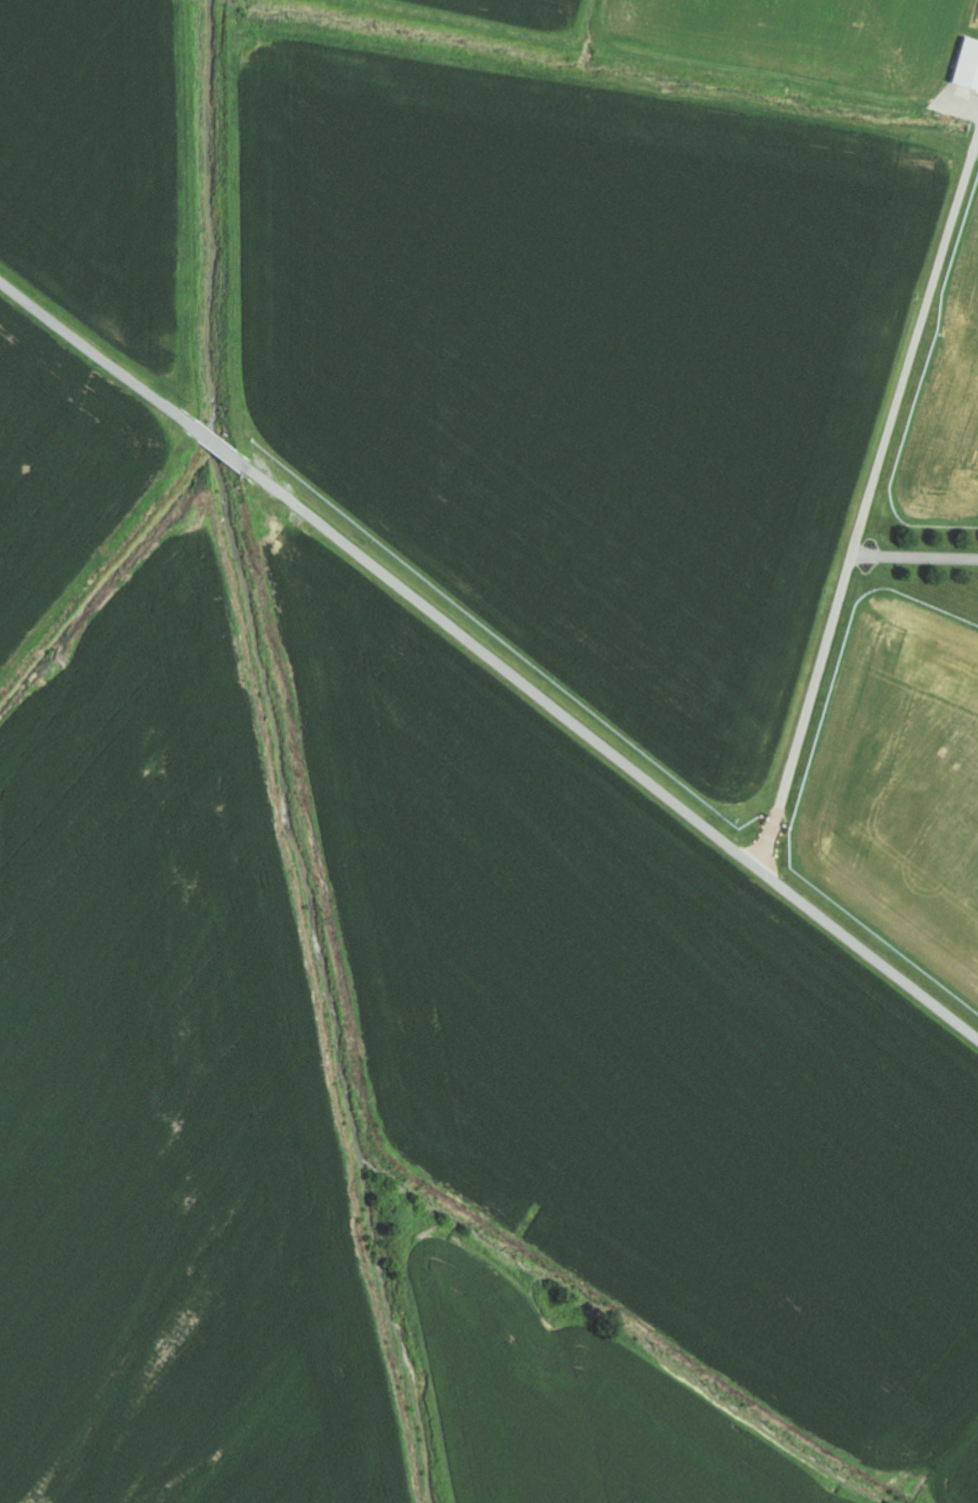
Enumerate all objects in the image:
building: (966, 66)
road: (867, 501)
road: (915, 556)
road: (489, 658)

